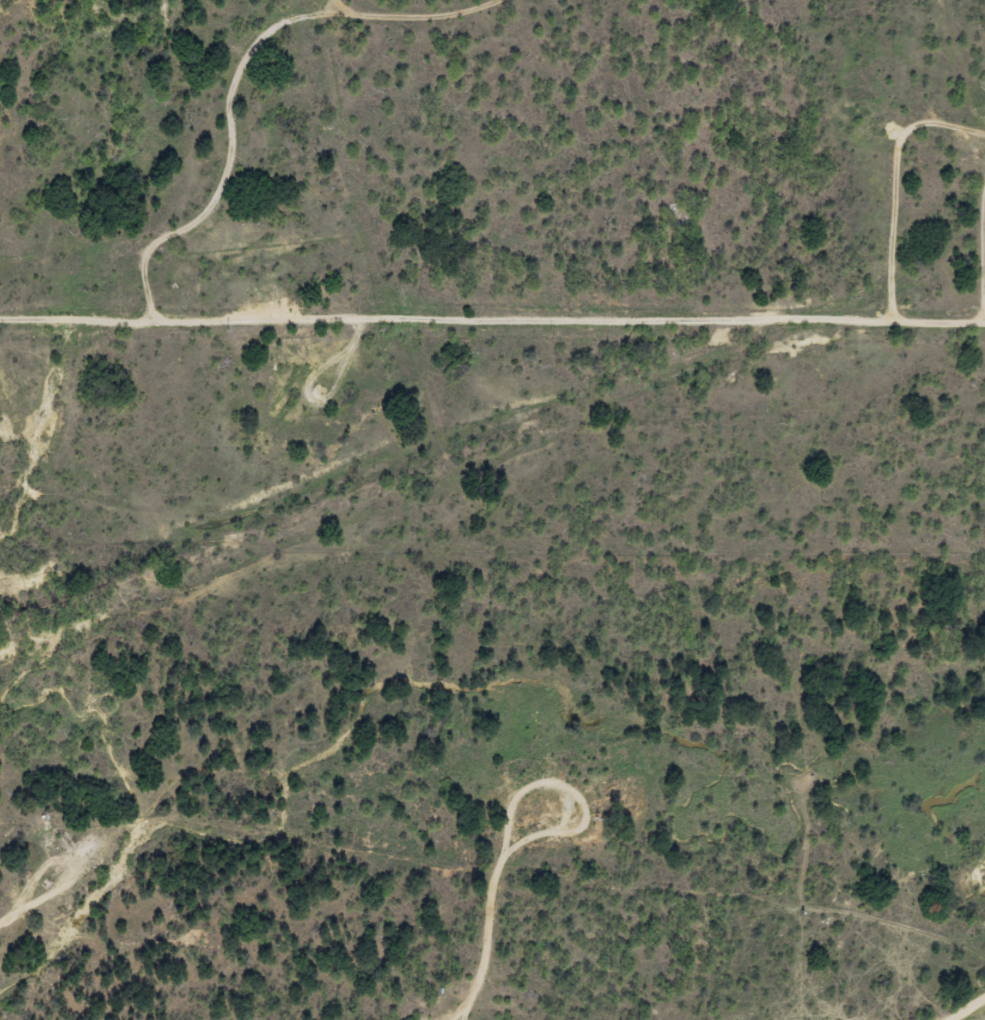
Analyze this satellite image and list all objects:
road: (966, 41)
road: (266, 129)
railway: (496, 438)

